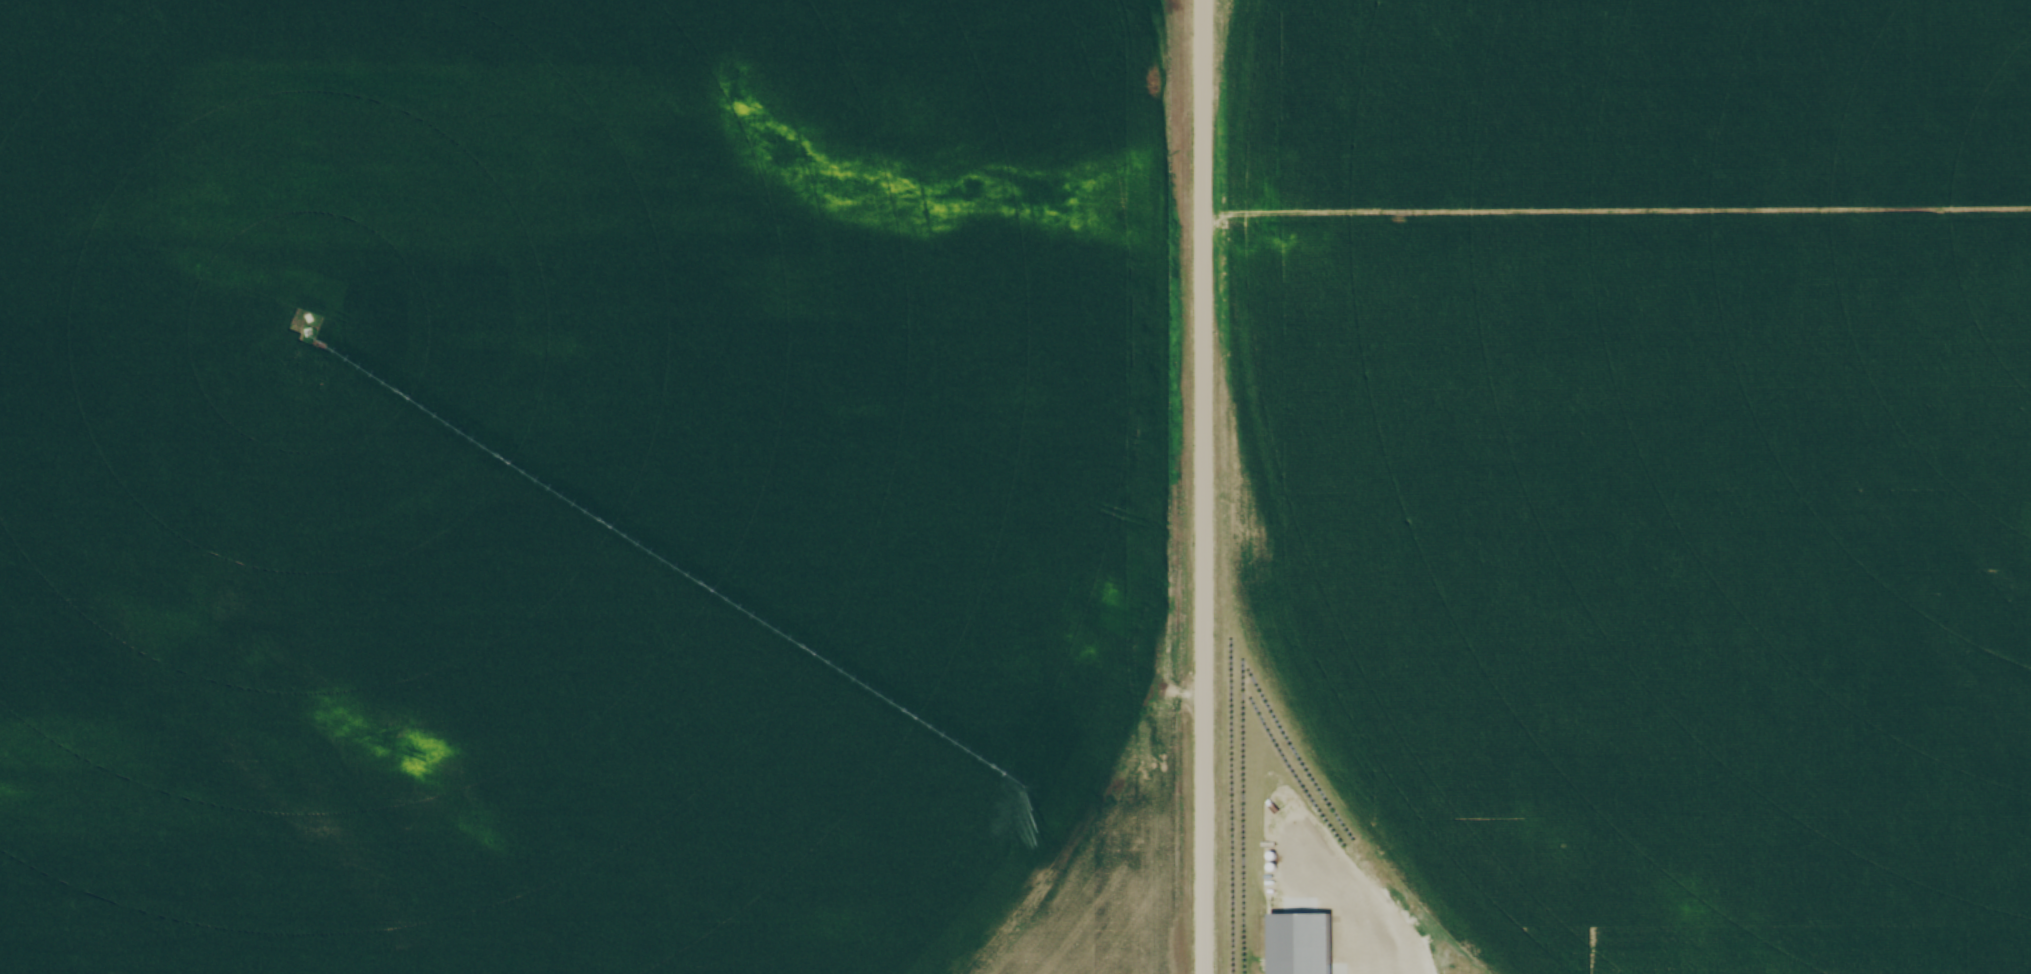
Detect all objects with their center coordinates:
road: (1202, 487)

